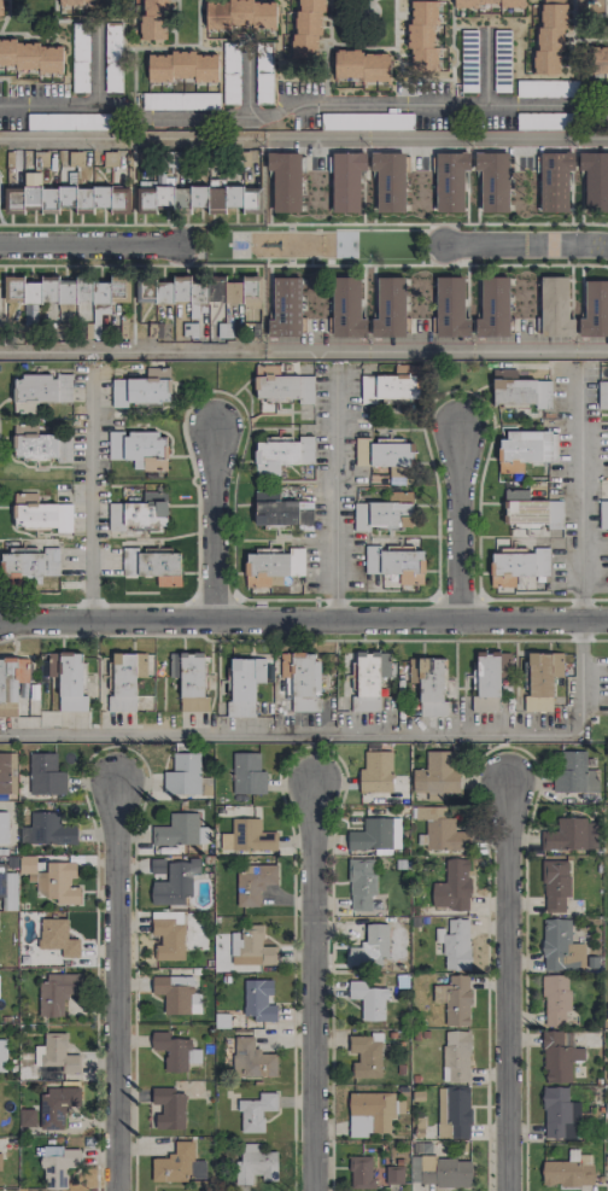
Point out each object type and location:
building: (80, 1)
building: (490, 2)
building: (0, 7)
building: (239, 13)
building: (152, 19)
building: (308, 30)
building: (422, 35)
building: (549, 39)
building: (29, 56)
building: (80, 57)
road: (95, 64)
building: (359, 65)
building: (181, 66)
road: (486, 69)
road: (246, 86)
building: (546, 88)
building: (180, 100)
road: (300, 103)
building: (367, 121)
building: (545, 121)
road: (123, 138)
road: (445, 139)
building: (285, 180)
building: (388, 180)
building: (450, 180)
building: (595, 180)
building: (346, 181)
building: (492, 181)
building: (554, 181)
building: (146, 195)
building: (49, 197)
building: (101, 197)
building: (118, 198)
building: (203, 198)
road: (88, 244)
road: (524, 244)
building: (182, 291)
building: (58, 292)
building: (244, 292)
building: (25, 298)
building: (99, 303)
building: (285, 306)
building: (346, 306)
building: (450, 306)
building: (388, 308)
building: (493, 308)
building: (555, 308)
building: (595, 310)
building: (195, 320)
road: (437, 349)
road: (133, 350)
building: (391, 384)
building: (285, 387)
building: (141, 389)
building: (40, 391)
building: (519, 391)
building: (602, 393)
building: (37, 444)
building: (138, 448)
building: (524, 449)
building: (281, 454)
building: (385, 456)
road: (335, 491)
road: (579, 492)
road: (90, 497)
building: (522, 508)
building: (280, 510)
building: (139, 512)
building: (384, 512)
building: (603, 512)
building: (40, 513)
building: (554, 514)
road: (211, 515)
road: (457, 519)
building: (29, 561)
building: (396, 564)
building: (152, 565)
building: (516, 565)
road: (303, 615)
road: (303, 640)
building: (384, 664)
building: (141, 665)
building: (68, 679)
building: (188, 679)
building: (302, 679)
building: (542, 679)
building: (486, 682)
building: (11, 683)
building: (122, 683)
building: (244, 684)
building: (428, 685)
road: (347, 735)
building: (7, 772)
building: (375, 772)
building: (574, 772)
building: (247, 773)
building: (45, 775)
building: (437, 775)
building: (186, 776)
building: (4, 827)
building: (51, 829)
building: (179, 829)
building: (440, 829)
building: (251, 835)
building: (376, 835)
building: (571, 835)
building: (28, 866)
building: (171, 880)
building: (57, 882)
building: (252, 883)
building: (455, 885)
building: (555, 885)
building: (363, 886)
building: (168, 934)
building: (57, 936)
building: (455, 944)
building: (370, 946)
building: (560, 946)
building: (251, 947)
road: (315, 985)
road: (113, 987)
road: (503, 988)
building: (57, 992)
building: (176, 994)
building: (258, 999)
building: (555, 999)
building: (368, 1000)
building: (457, 1000)
building: (175, 1051)
building: (51, 1053)
building: (2, 1055)
building: (366, 1056)
building: (456, 1056)
building: (557, 1056)
building: (252, 1059)
building: (57, 1108)
building: (169, 1109)
building: (256, 1111)
building: (454, 1111)
building: (372, 1113)
building: (29, 1116)
building: (0, 1161)
building: (606, 1162)
building: (255, 1163)
building: (57, 1164)
building: (177, 1164)
building: (440, 1170)
building: (568, 1170)
building: (361, 1172)
building: (392, 1174)

